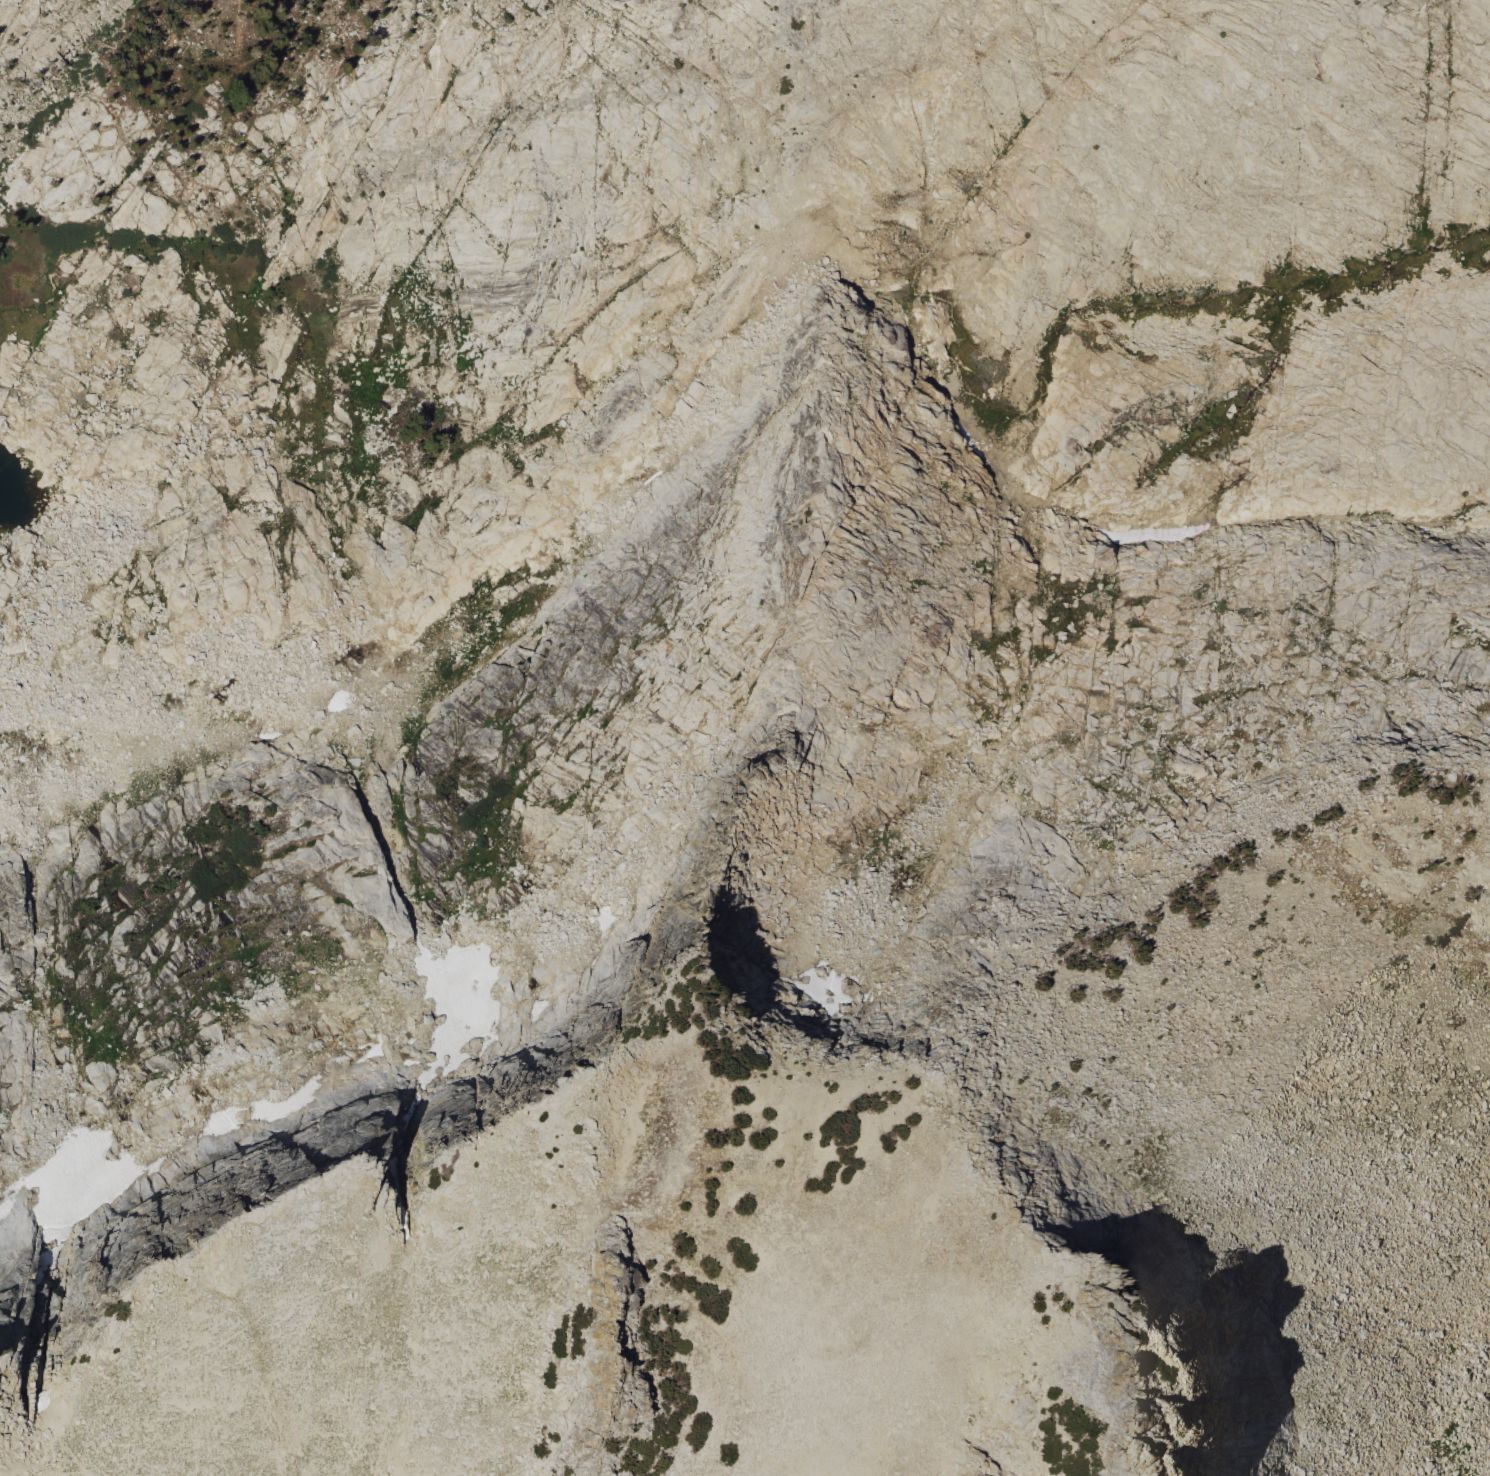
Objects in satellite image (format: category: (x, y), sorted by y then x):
road: (47, 1467)

